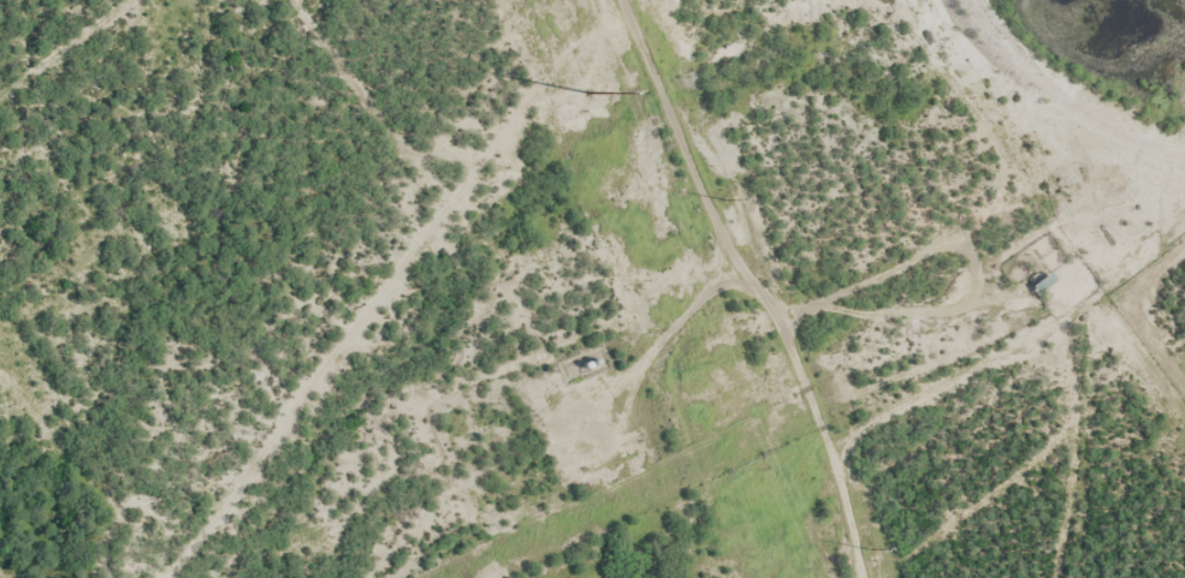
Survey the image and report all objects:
power tower: (588, 89)
power tower: (722, 201)
road: (852, 367)
power tower: (863, 549)

